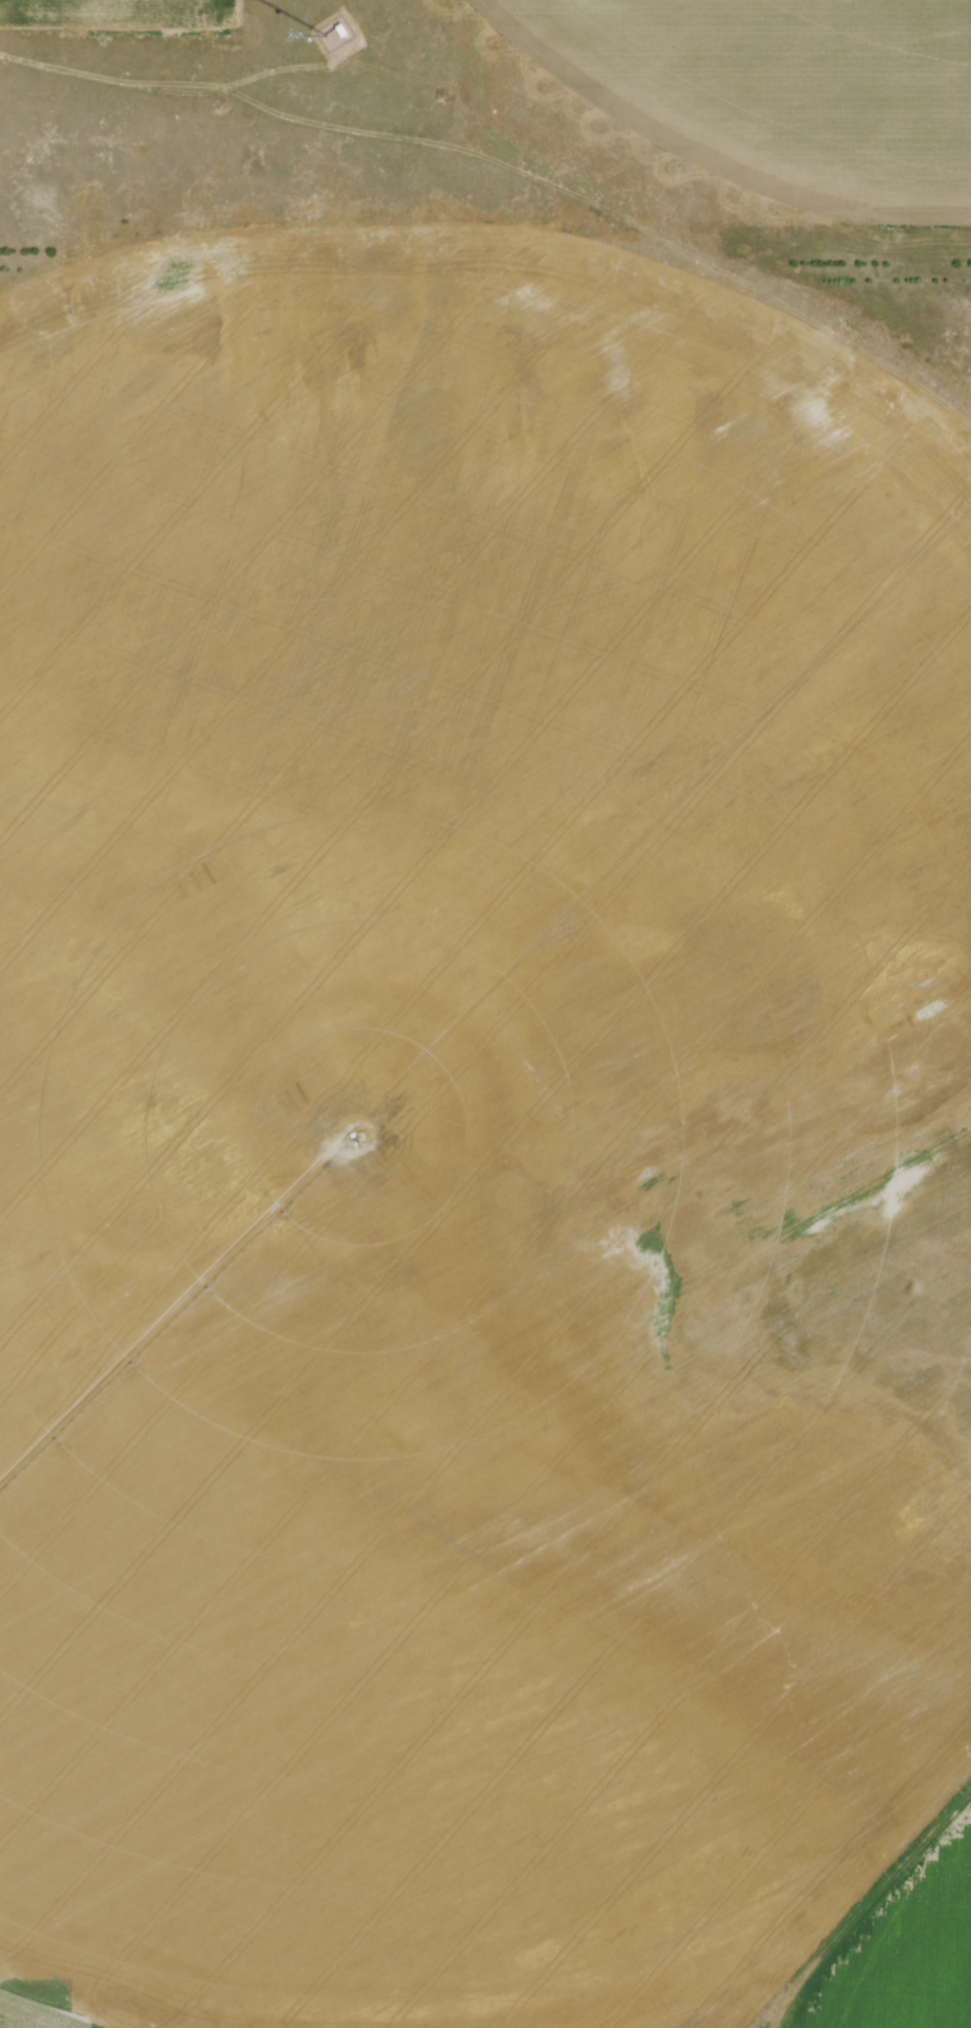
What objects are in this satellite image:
building: (341, 30)

